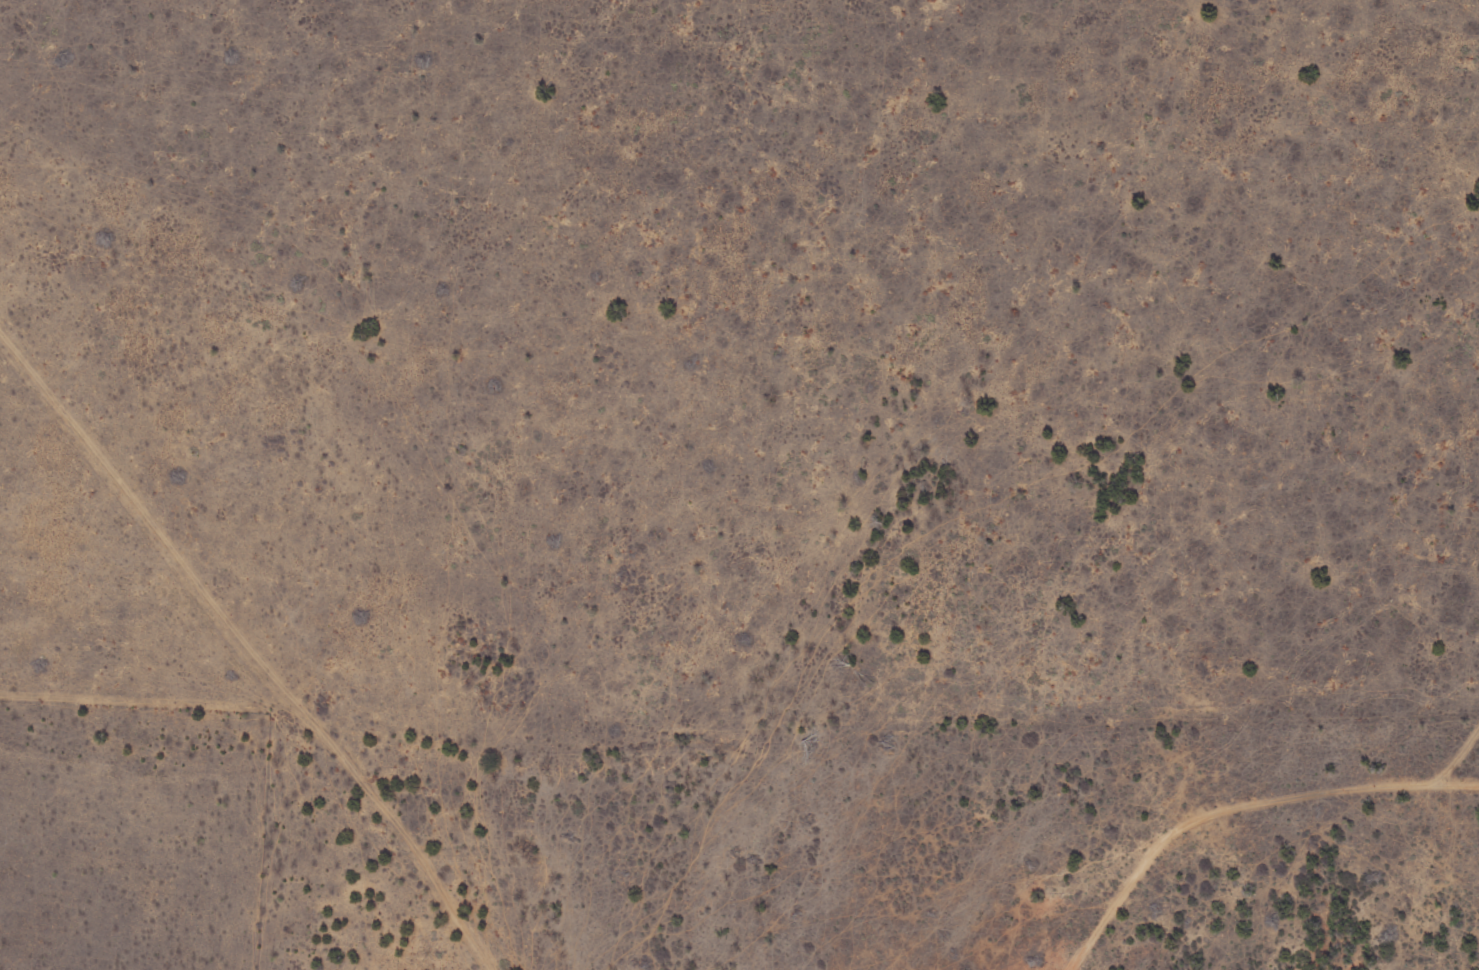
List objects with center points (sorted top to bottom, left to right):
road: (1239, 821)

